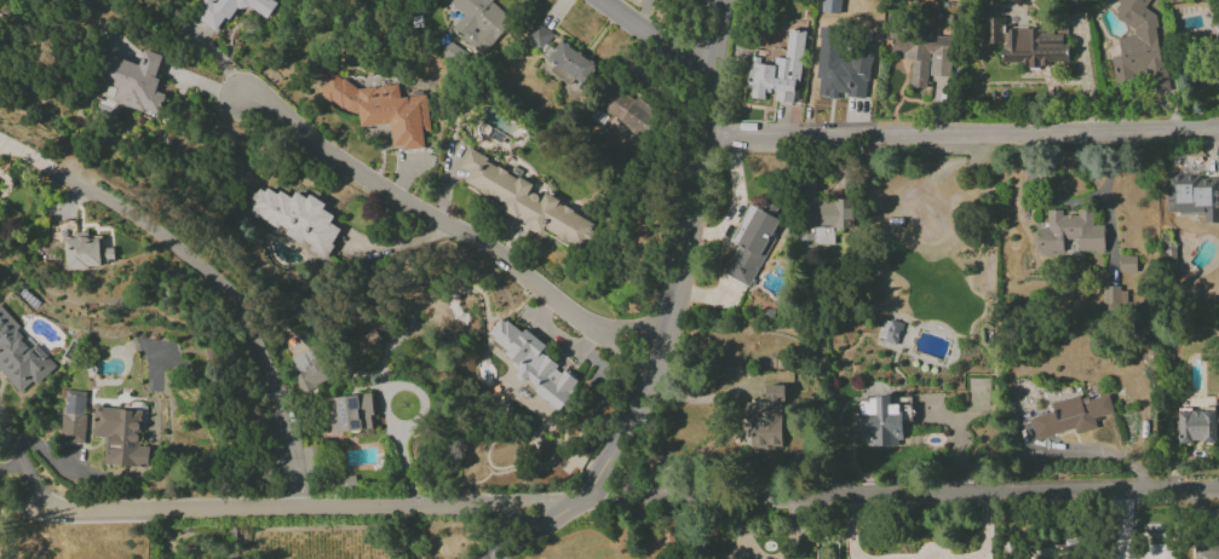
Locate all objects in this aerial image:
building: (675, 1)
building: (830, 6)
building: (1076, 6)
building: (229, 10)
building: (479, 23)
building: (1215, 31)
building: (537, 36)
road: (655, 39)
building: (1025, 44)
building: (1139, 47)
building: (922, 54)
building: (571, 62)
building: (841, 65)
building: (777, 74)
building: (132, 82)
building: (381, 109)
building: (628, 114)
road: (959, 131)
building: (1194, 195)
building: (524, 202)
building: (823, 209)
building: (295, 218)
road: (450, 226)
building: (1070, 232)
building: (751, 241)
building: (86, 252)
building: (1126, 264)
road: (207, 281)
building: (1112, 295)
road: (672, 310)
building: (889, 330)
building: (368, 340)
building: (19, 357)
building: (533, 363)
building: (307, 370)
road: (381, 403)
building: (350, 413)
building: (1073, 415)
building: (73, 416)
building: (766, 420)
building: (882, 421)
building: (1197, 426)
building: (120, 436)
road: (23, 473)
road: (609, 500)
road: (847, 529)
road: (742, 530)
road: (984, 530)
road: (795, 531)
building: (1206, 552)

